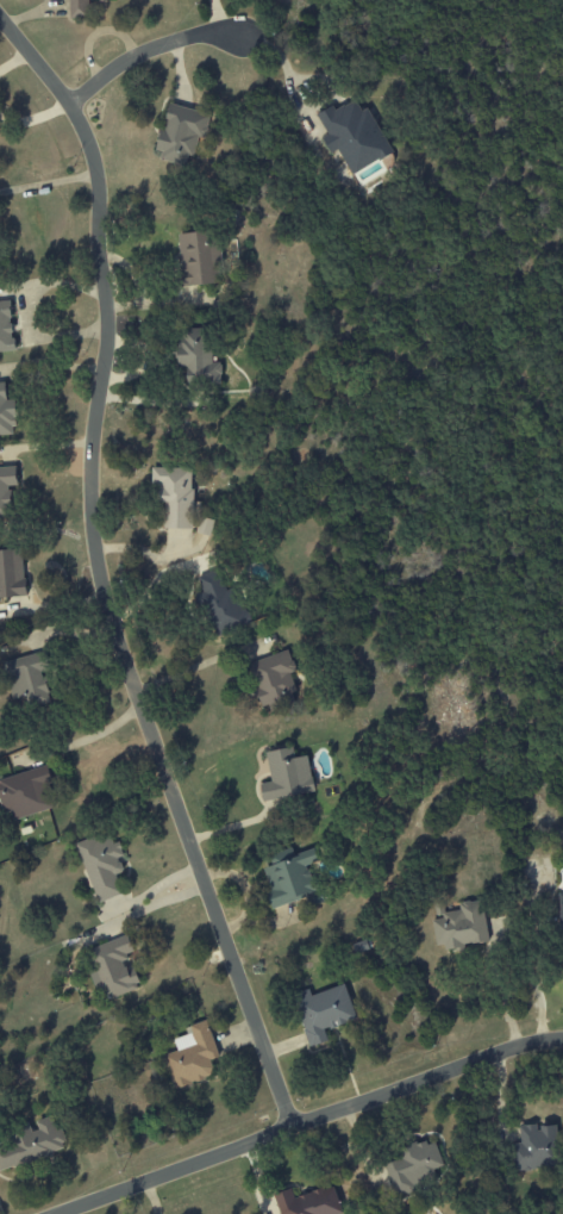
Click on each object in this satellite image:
building: (77, 8)
road: (217, 17)
road: (146, 50)
road: (287, 73)
building: (180, 133)
building: (354, 136)
road: (48, 182)
building: (199, 259)
road: (20, 313)
building: (6, 328)
building: (196, 356)
building: (6, 413)
building: (6, 488)
building: (174, 496)
building: (205, 527)
road: (98, 571)
building: (12, 573)
building: (219, 603)
road: (188, 671)
building: (274, 679)
building: (27, 681)
road: (81, 740)
building: (286, 776)
building: (26, 793)
building: (101, 866)
building: (288, 879)
building: (561, 909)
building: (459, 926)
building: (112, 969)
building: (323, 1011)
building: (192, 1056)
road: (425, 1078)
building: (32, 1144)
building: (536, 1148)
building: (414, 1165)
road: (173, 1170)
building: (308, 1202)

